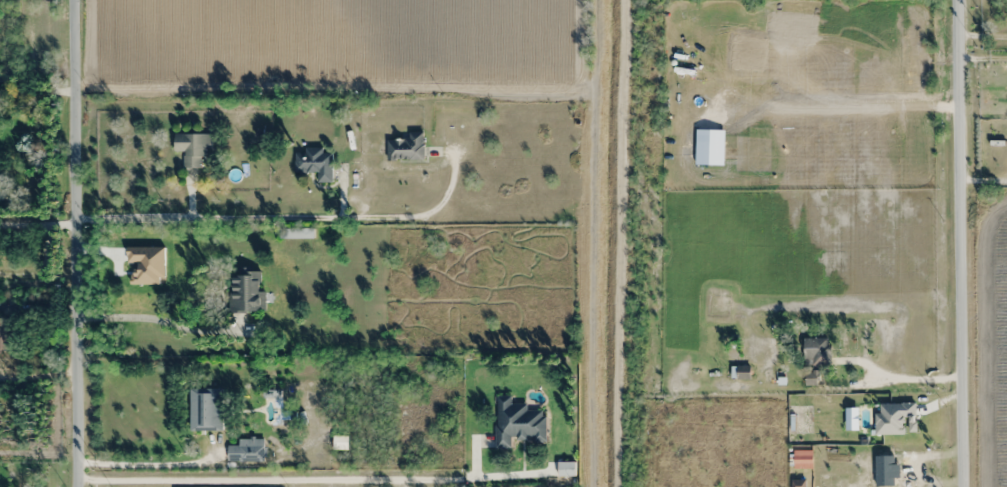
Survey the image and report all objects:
crop: (331, 43)
building: (192, 147)
building: (406, 148)
building: (314, 163)
road: (251, 217)
building: (297, 233)
road: (79, 243)
road: (956, 243)
building: (245, 291)
building: (5, 336)
crop: (997, 350)
building: (816, 351)
building: (744, 372)
building: (205, 409)
building: (517, 422)
building: (249, 450)
road: (288, 476)

